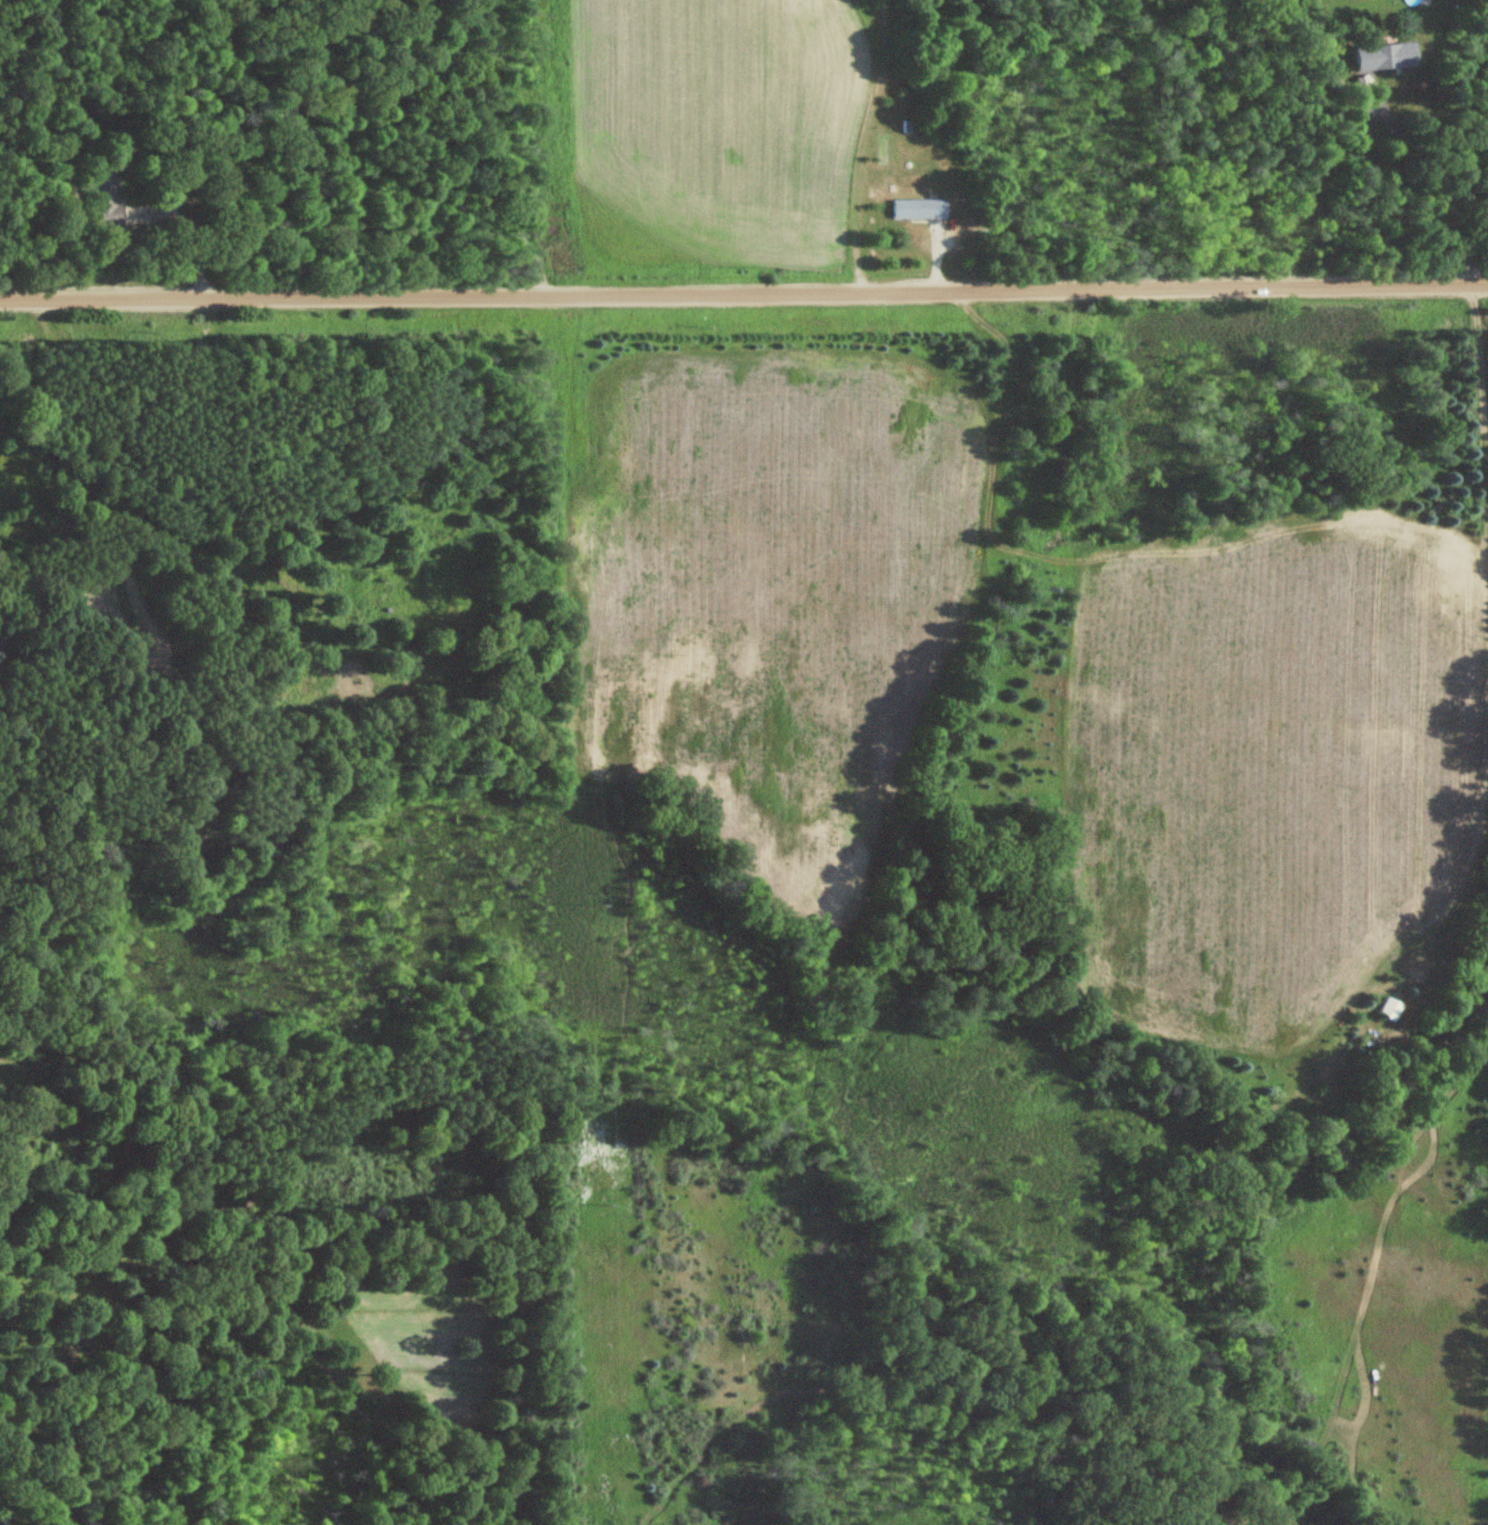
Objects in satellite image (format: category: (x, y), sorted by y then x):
building: (1384, 58)
road: (885, 154)
building: (105, 200)
building: (918, 210)
road: (195, 225)
road: (744, 293)
building: (1390, 1010)

